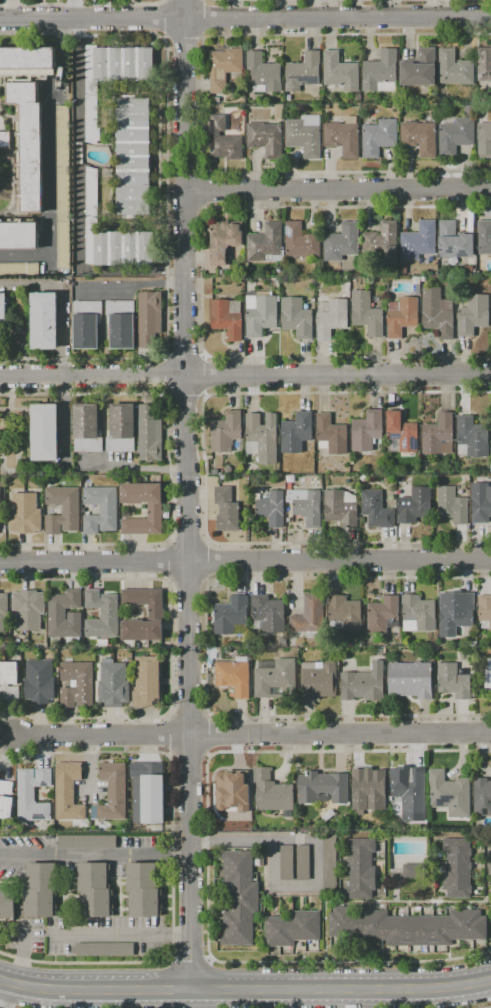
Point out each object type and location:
road: (267, 0)
road: (81, 5)
road: (11, 10)
road: (69, 10)
road: (204, 19)
road: (245, 19)
road: (163, 20)
road: (183, 40)
building: (27, 58)
building: (484, 64)
building: (224, 66)
building: (454, 68)
building: (419, 69)
building: (303, 72)
building: (381, 72)
building: (263, 73)
building: (340, 73)
building: (26, 74)
building: (112, 76)
road: (201, 104)
building: (469, 110)
building: (278, 112)
building: (305, 135)
building: (456, 136)
building: (344, 137)
building: (420, 137)
building: (266, 138)
building: (379, 138)
building: (5, 140)
building: (224, 140)
building: (484, 140)
building: (29, 143)
building: (133, 155)
road: (49, 161)
building: (63, 187)
road: (338, 190)
road: (206, 191)
road: (77, 196)
road: (166, 198)
building: (19, 235)
building: (113, 236)
building: (484, 237)
building: (224, 240)
building: (301, 241)
building: (419, 241)
building: (454, 241)
building: (342, 243)
building: (381, 243)
building: (266, 244)
building: (19, 269)
building: (404, 269)
building: (468, 269)
road: (198, 284)
building: (416, 284)
road: (64, 298)
building: (307, 304)
building: (3, 306)
building: (261, 312)
building: (367, 313)
building: (438, 313)
building: (473, 315)
building: (402, 316)
building: (149, 318)
building: (227, 318)
building: (297, 318)
building: (331, 318)
building: (44, 321)
building: (121, 323)
building: (87, 324)
road: (184, 355)
road: (204, 375)
road: (245, 376)
road: (165, 377)
road: (185, 398)
building: (87, 428)
building: (121, 428)
building: (367, 431)
building: (45, 432)
building: (227, 433)
building: (296, 433)
building: (401, 433)
building: (149, 434)
building: (331, 434)
building: (439, 435)
building: (262, 438)
building: (472, 438)
building: (490, 450)
road: (202, 467)
road: (169, 471)
building: (215, 472)
road: (185, 495)
building: (453, 504)
building: (306, 506)
building: (414, 506)
building: (155, 508)
building: (341, 508)
building: (481, 508)
building: (226, 509)
building: (272, 509)
building: (376, 509)
building: (63, 510)
building: (100, 510)
building: (24, 514)
road: (188, 541)
road: (167, 561)
road: (245, 561)
road: (208, 562)
road: (188, 582)
building: (28, 609)
building: (484, 611)
building: (4, 612)
building: (345, 613)
building: (459, 613)
building: (102, 614)
building: (156, 614)
building: (267, 614)
building: (418, 614)
building: (231, 615)
building: (65, 616)
building: (310, 616)
building: (383, 616)
building: (104, 644)
building: (63, 646)
road: (205, 648)
road: (171, 649)
building: (215, 653)
building: (487, 675)
building: (234, 677)
building: (275, 679)
building: (319, 680)
building: (410, 680)
building: (454, 680)
building: (9, 681)
building: (40, 682)
building: (148, 682)
building: (77, 684)
building: (112, 684)
building: (363, 684)
road: (340, 734)
road: (102, 735)
road: (208, 735)
building: (319, 786)
building: (229, 788)
building: (68, 791)
building: (372, 791)
building: (112, 792)
building: (147, 792)
building: (411, 792)
building: (272, 793)
building: (32, 794)
building: (449, 794)
building: (482, 797)
building: (5, 800)
building: (328, 816)
building: (345, 821)
building: (241, 822)
building: (221, 826)
building: (87, 842)
road: (313, 845)
road: (95, 853)
road: (207, 856)
road: (172, 857)
building: (286, 862)
building: (303, 862)
building: (329, 864)
building: (489, 866)
building: (361, 868)
building: (457, 868)
building: (413, 871)
building: (40, 889)
building: (94, 890)
building: (143, 890)
building: (490, 890)
building: (240, 898)
building: (7, 905)
building: (319, 907)
building: (408, 927)
building: (292, 929)
road: (122, 933)
building: (104, 949)
road: (19, 955)
road: (190, 959)
road: (175, 983)
road: (209, 983)
road: (370, 989)
road: (62, 990)
road: (159, 990)
road: (221, 990)
road: (6, 995)
road: (1, 1007)
road: (487, 1007)

